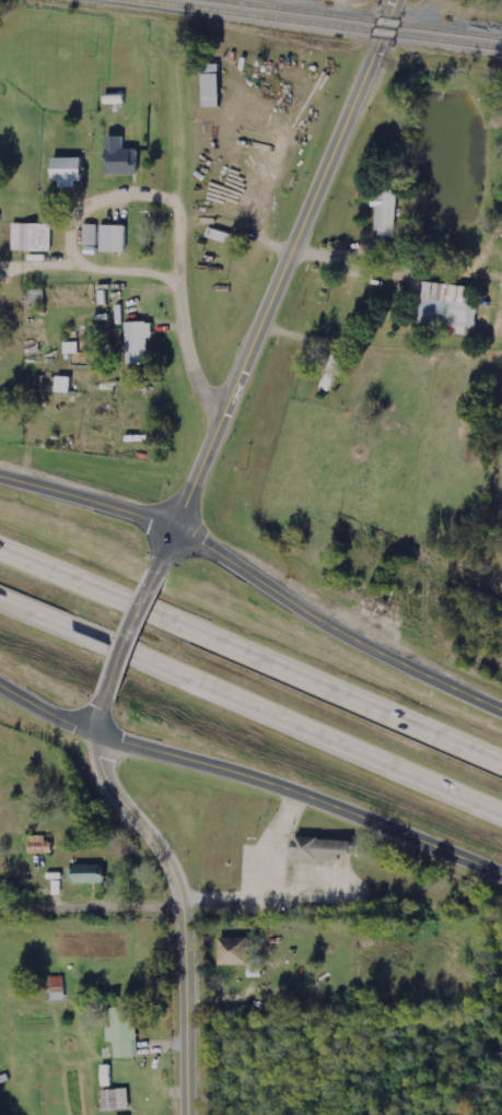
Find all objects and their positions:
railway: (349, 20)
railway: (307, 26)
building: (213, 86)
building: (122, 159)
building: (71, 173)
building: (387, 212)
building: (91, 236)
building: (33, 237)
building: (115, 239)
road: (287, 266)
building: (447, 308)
road: (180, 310)
building: (140, 343)
building: (52, 385)
road: (164, 552)
road: (256, 579)
road: (130, 635)
road: (250, 656)
road: (252, 701)
road: (101, 715)
road: (252, 776)
building: (40, 846)
building: (312, 850)
building: (87, 875)
road: (265, 885)
building: (58, 889)
road: (180, 913)
road: (91, 915)
building: (232, 951)
building: (257, 970)
building: (120, 1032)
building: (117, 1100)

